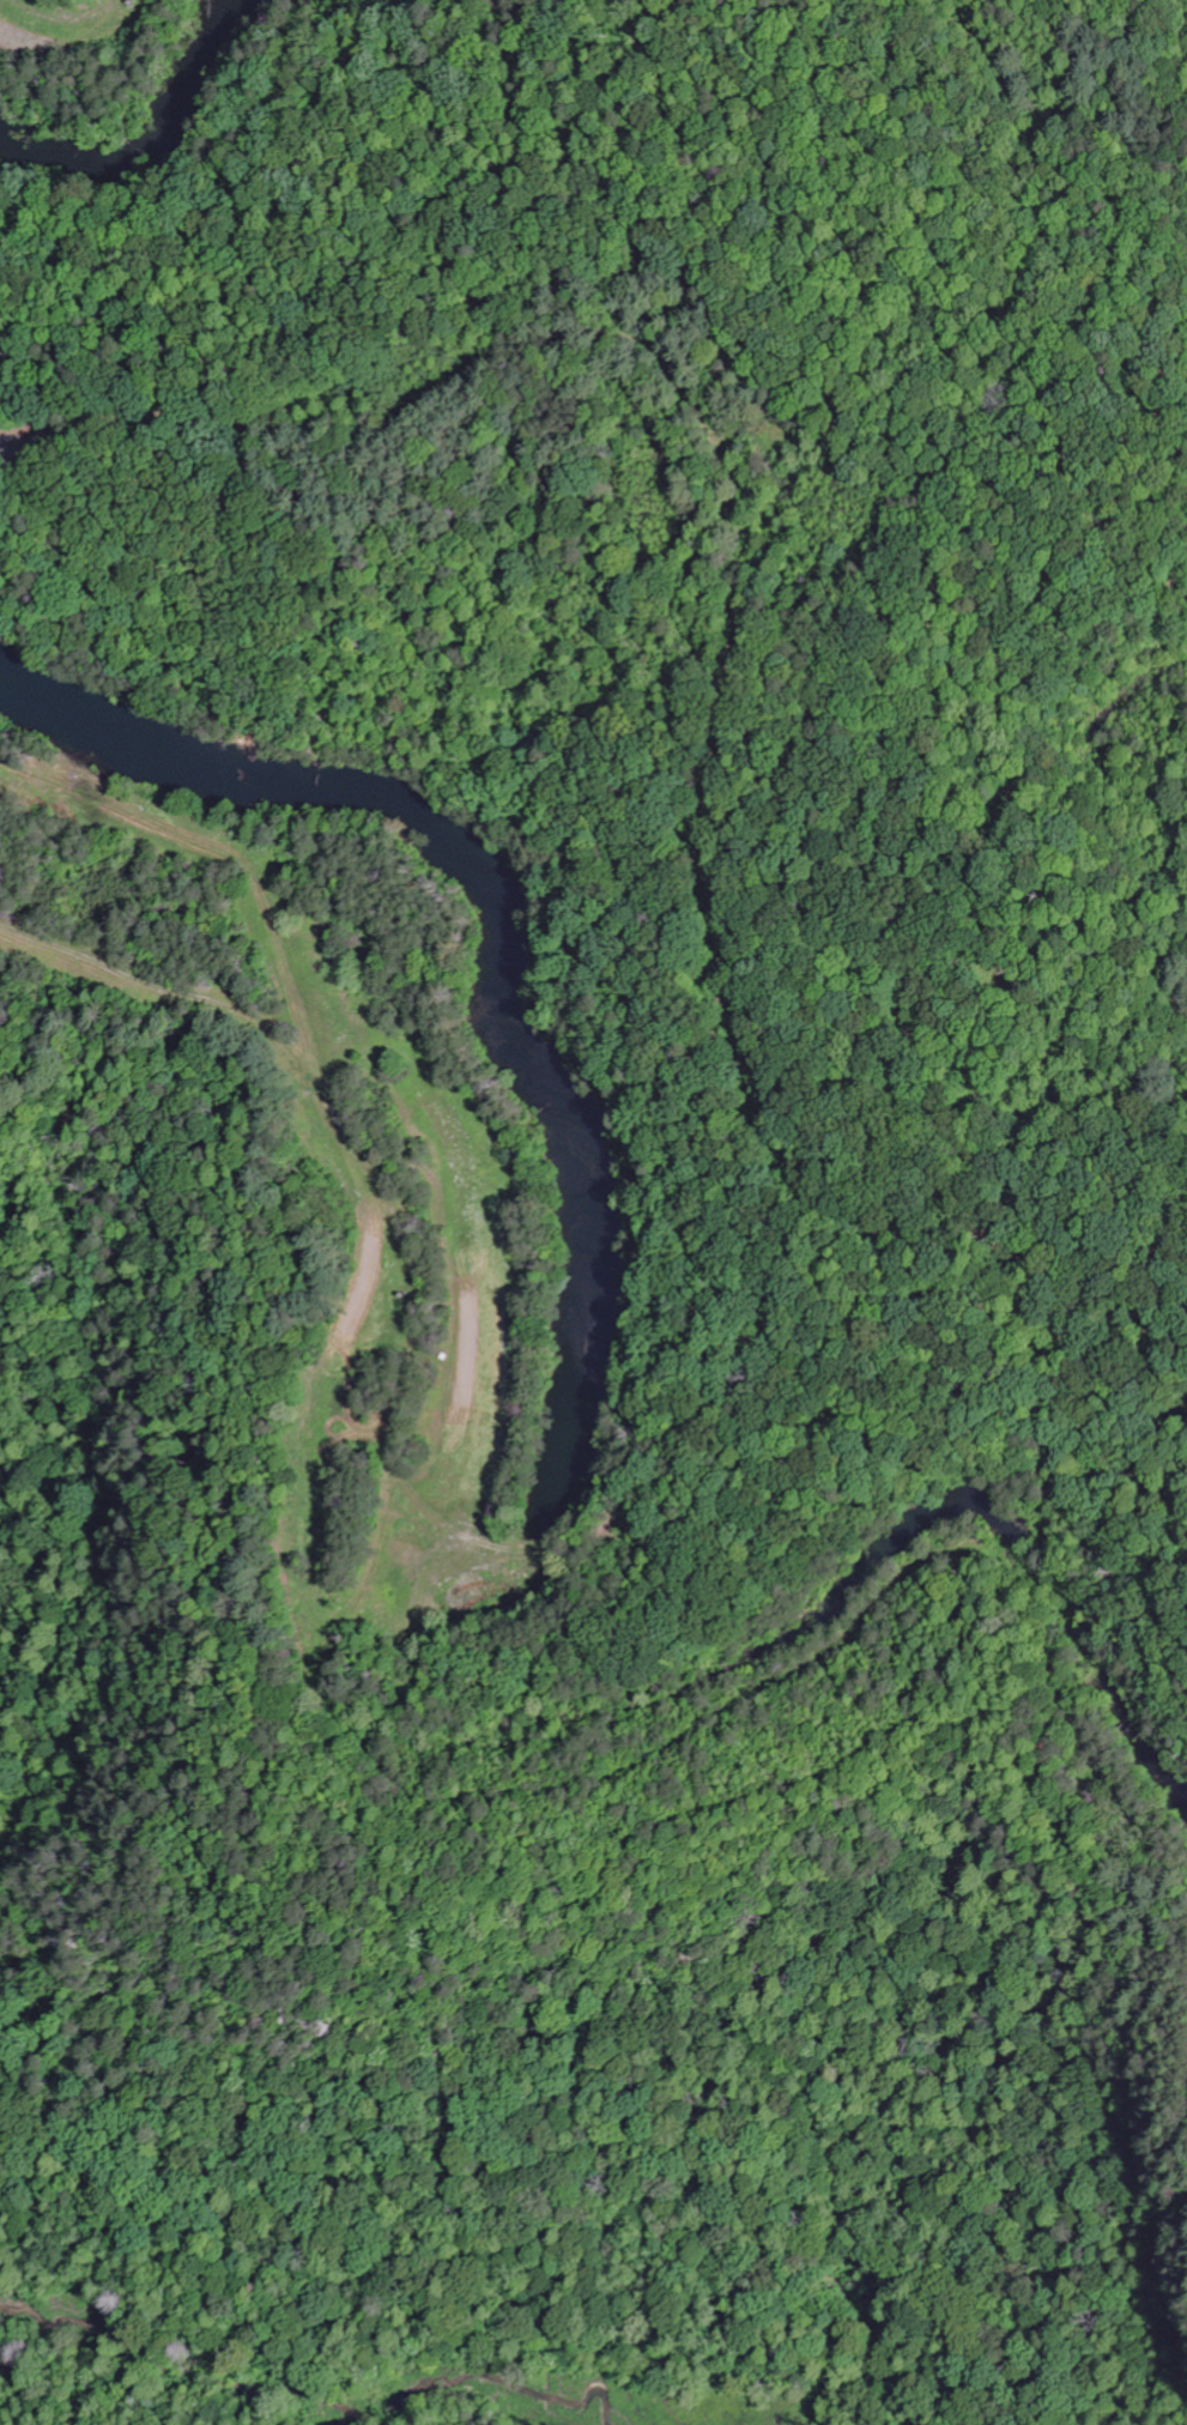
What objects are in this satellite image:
road: (85, 957)

